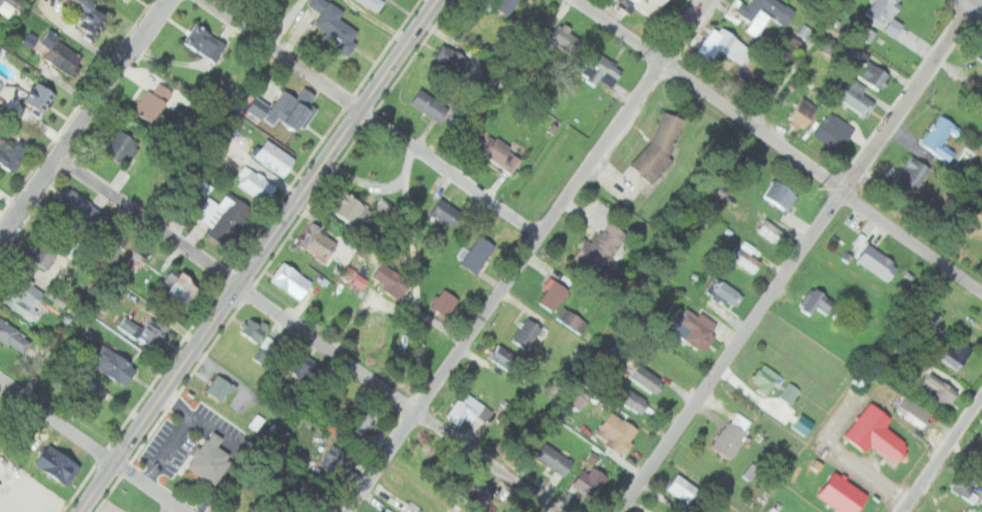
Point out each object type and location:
building: (373, 4)
building: (497, 5)
building: (7, 6)
building: (648, 6)
building: (882, 11)
building: (762, 12)
building: (89, 16)
road: (284, 24)
building: (333, 24)
building: (864, 34)
building: (565, 39)
building: (206, 42)
building: (723, 44)
building: (61, 55)
building: (980, 55)
building: (452, 59)
building: (598, 68)
building: (873, 74)
building: (1, 81)
building: (855, 95)
building: (38, 98)
building: (154, 101)
building: (295, 105)
building: (429, 105)
building: (250, 106)
building: (274, 107)
building: (472, 111)
building: (794, 115)
road: (83, 119)
road: (369, 121)
building: (835, 132)
building: (941, 136)
road: (779, 144)
building: (660, 145)
building: (123, 147)
building: (10, 152)
building: (499, 152)
building: (275, 158)
building: (911, 178)
building: (255, 183)
power tower: (819, 187)
building: (780, 194)
building: (75, 205)
building: (380, 205)
building: (351, 209)
building: (217, 211)
building: (448, 212)
building: (770, 230)
building: (111, 244)
building: (321, 244)
building: (601, 248)
building: (478, 253)
building: (44, 254)
road: (527, 254)
road: (795, 254)
road: (260, 256)
building: (744, 258)
building: (134, 259)
building: (878, 262)
road: (415, 276)
building: (291, 280)
building: (390, 281)
road: (235, 285)
building: (180, 287)
building: (728, 293)
building: (553, 295)
building: (23, 296)
building: (444, 302)
building: (815, 302)
building: (572, 320)
building: (124, 324)
building: (154, 332)
building: (699, 332)
building: (527, 333)
building: (13, 337)
building: (258, 337)
building: (958, 353)
building: (501, 359)
building: (114, 364)
building: (302, 370)
building: (646, 378)
building: (764, 378)
building: (219, 387)
building: (938, 389)
building: (789, 392)
building: (632, 399)
building: (572, 400)
building: (467, 409)
building: (914, 411)
building: (362, 418)
building: (617, 432)
building: (981, 432)
building: (877, 433)
building: (733, 435)
road: (90, 447)
road: (942, 455)
building: (210, 458)
building: (554, 459)
road: (488, 460)
building: (334, 462)
building: (57, 464)
building: (590, 481)
building: (964, 484)
building: (682, 488)
building: (480, 493)
building: (844, 493)
building: (770, 510)
building: (373, 511)
building: (381, 511)

